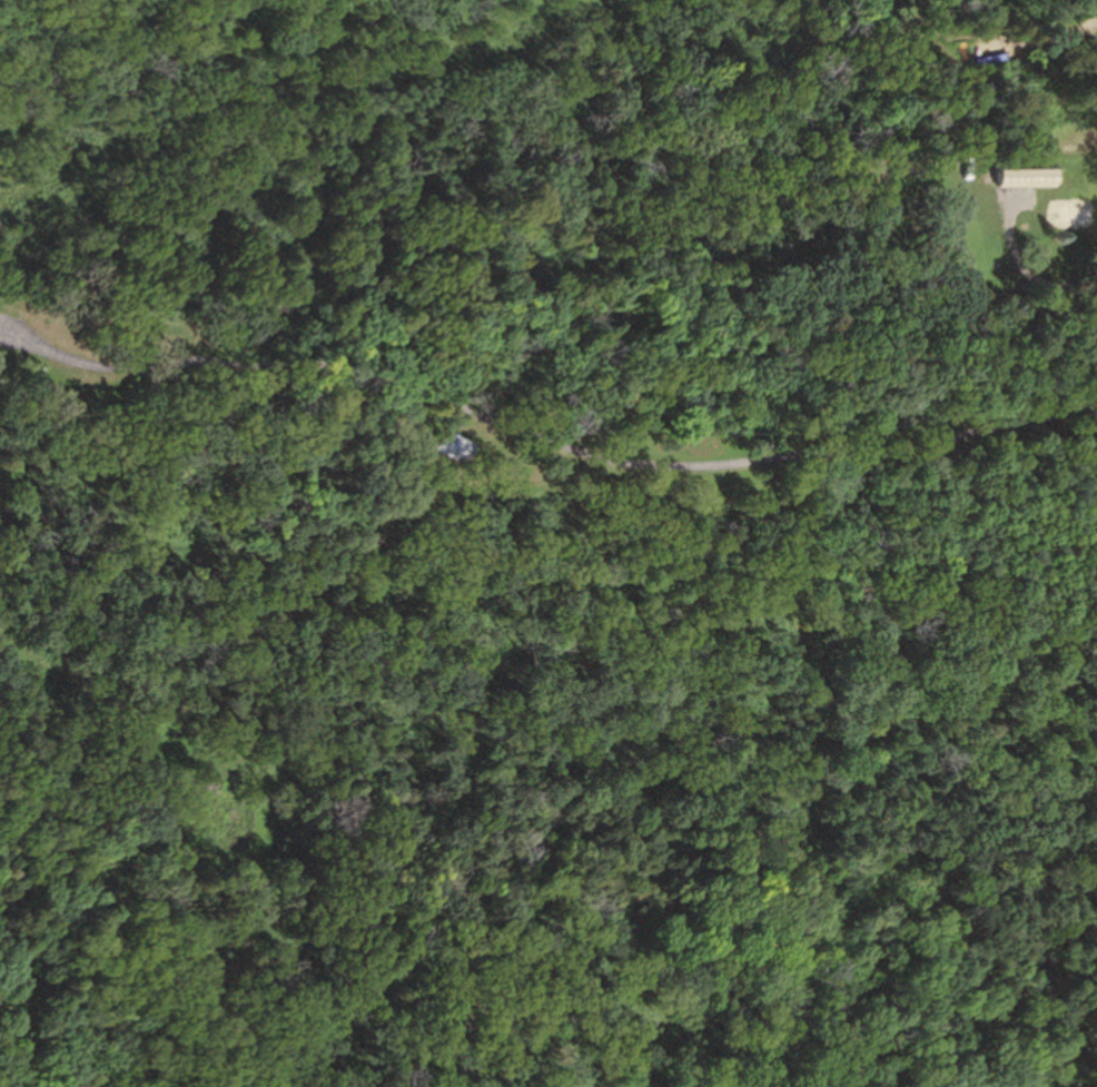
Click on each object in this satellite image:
building: (1032, 147)
building: (1020, 177)
road: (1019, 273)
road: (543, 439)
building: (451, 449)

